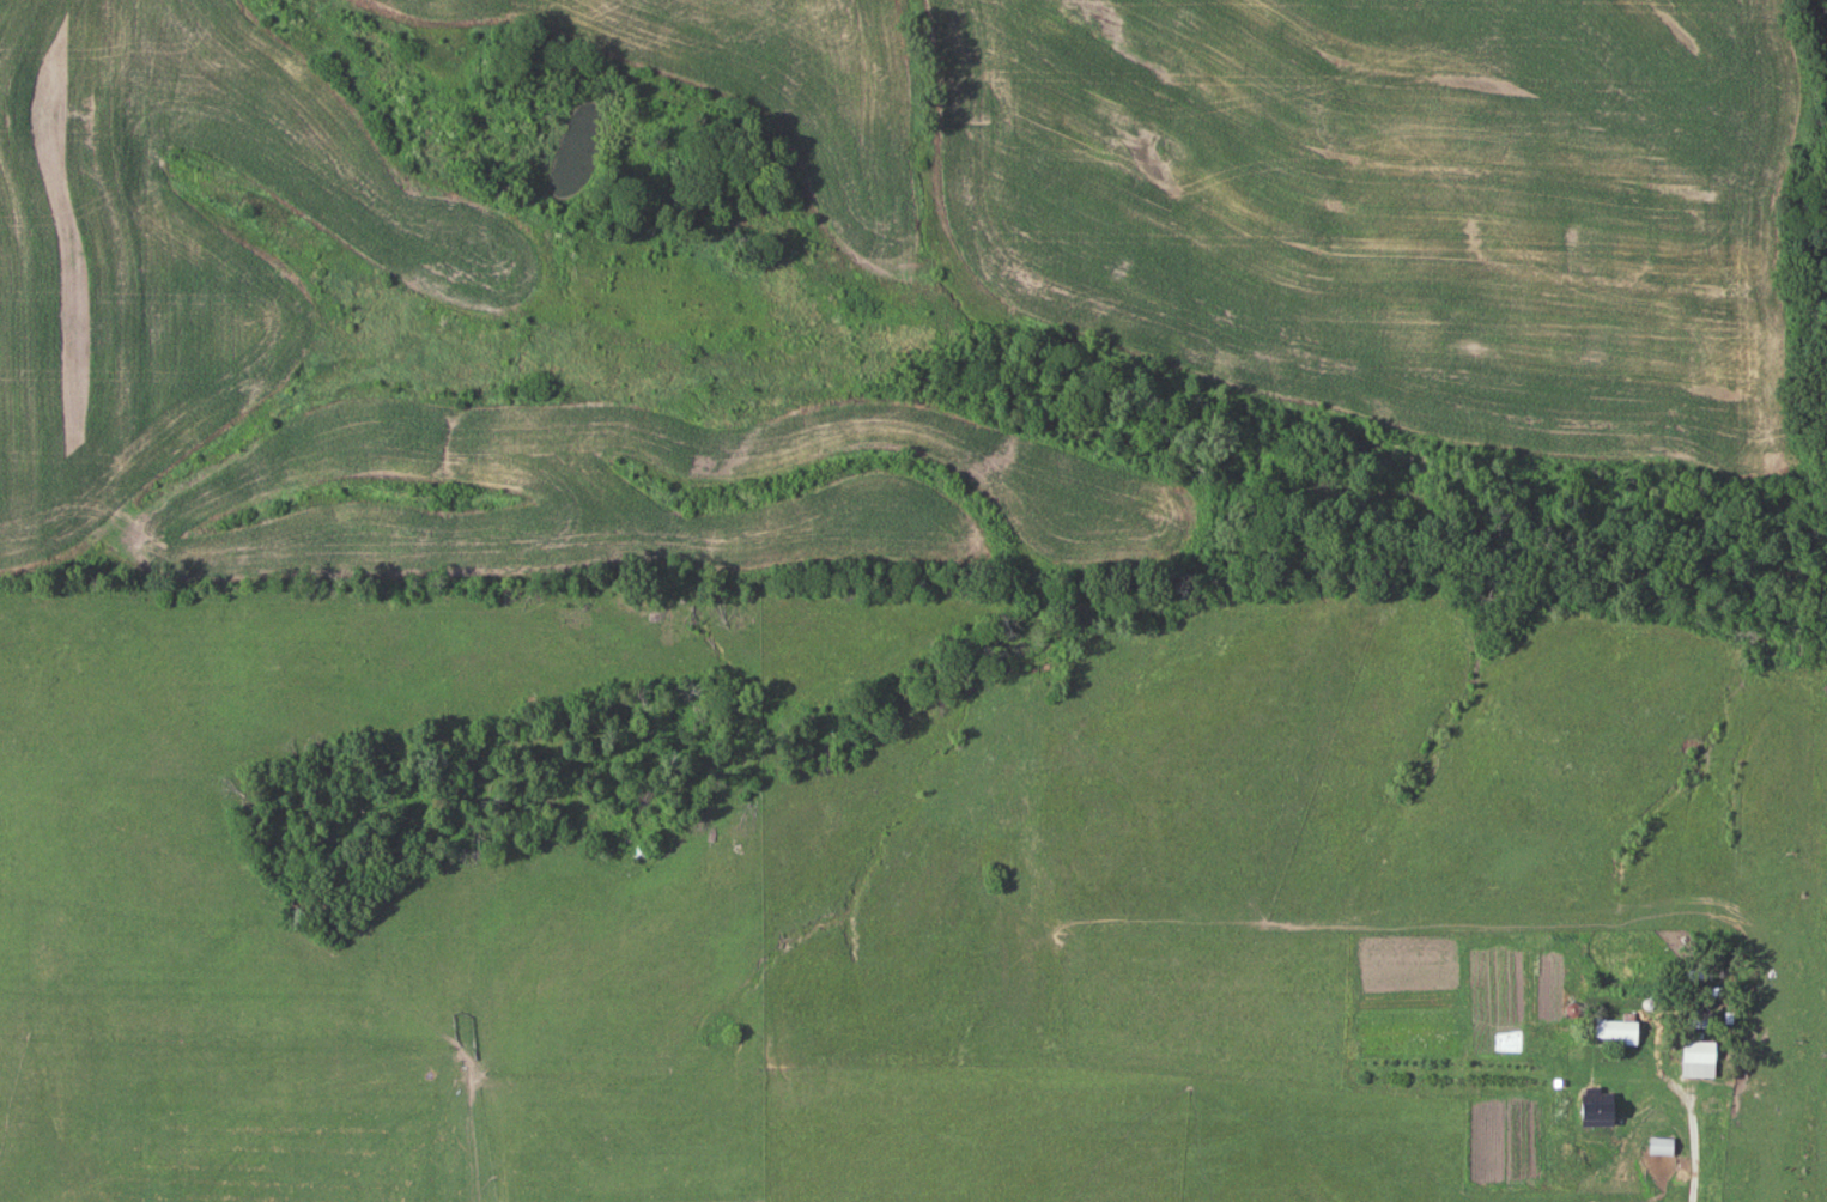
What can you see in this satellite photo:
building: (1621, 1031)
building: (1710, 1052)

